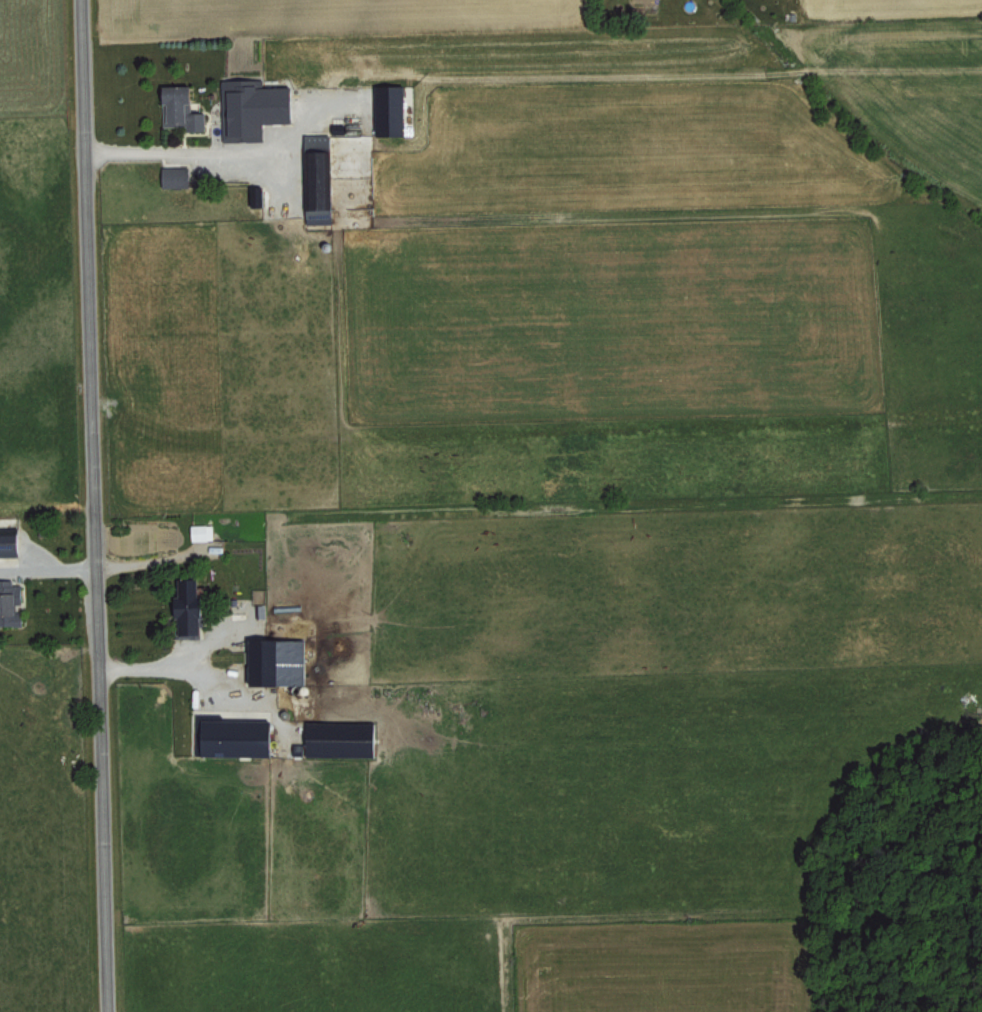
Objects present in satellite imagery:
building: (184, 107)
building: (257, 107)
building: (394, 109)
road: (186, 153)
building: (180, 176)
building: (324, 176)
road: (99, 506)
building: (204, 532)
building: (13, 544)
road: (50, 568)
building: (12, 603)
building: (195, 607)
building: (279, 662)
road: (154, 668)
building: (238, 737)

